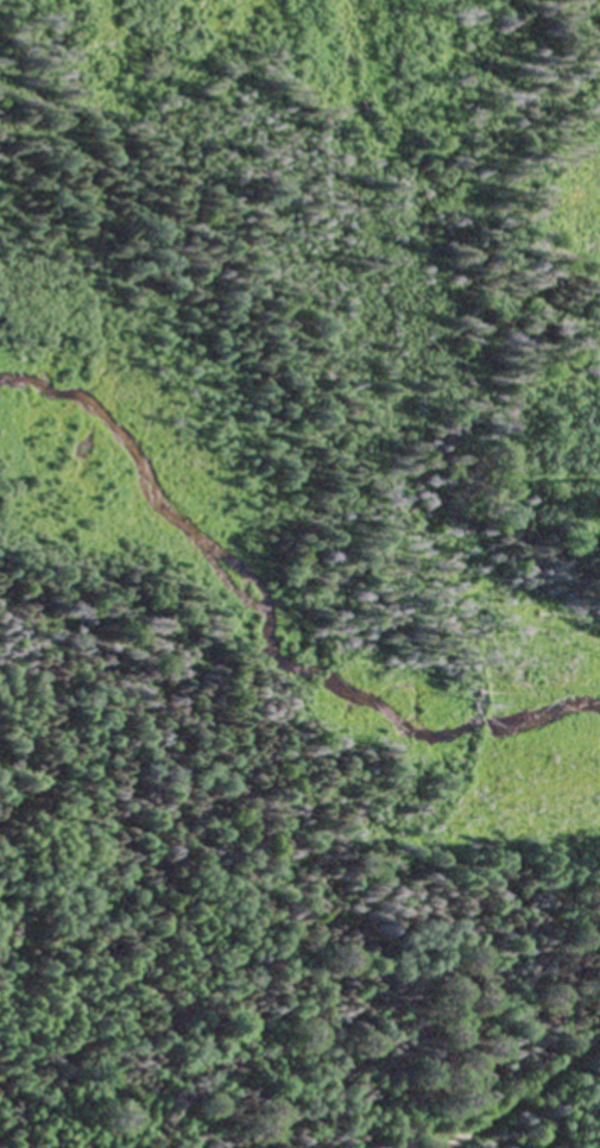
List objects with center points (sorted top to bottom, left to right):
road: (514, 1084)

